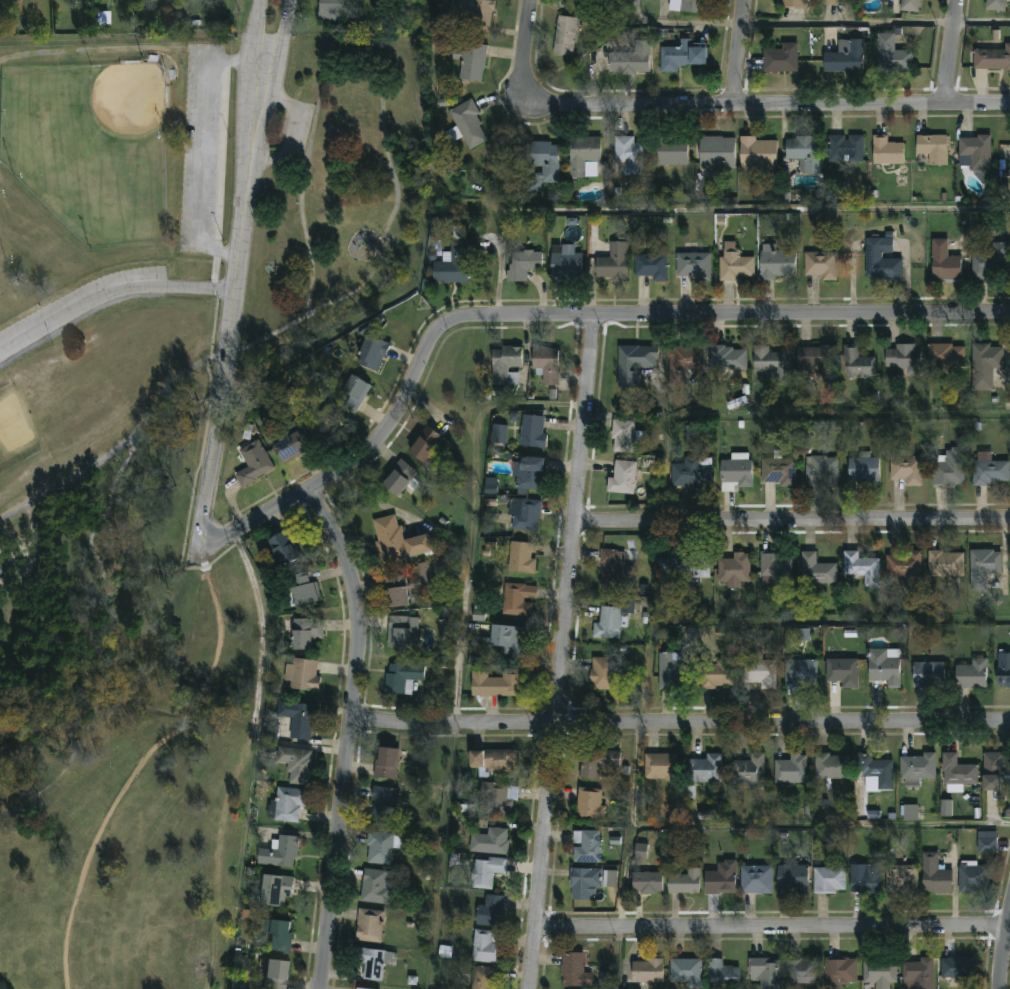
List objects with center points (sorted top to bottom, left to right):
building: (828, 2)
building: (792, 4)
building: (908, 4)
building: (692, 5)
building: (994, 5)
building: (334, 10)
road: (846, 10)
building: (479, 11)
road: (876, 21)
road: (680, 23)
building: (563, 34)
road: (527, 42)
building: (684, 49)
road: (952, 50)
road: (738, 52)
building: (891, 54)
building: (843, 56)
building: (779, 58)
building: (629, 59)
building: (992, 59)
building: (475, 61)
road: (252, 79)
road: (274, 81)
road: (767, 103)
road: (316, 113)
building: (470, 126)
parking lot: (290, 134)
parking lot: (201, 146)
park: (91, 147)
building: (844, 147)
building: (932, 147)
road: (199, 151)
building: (669, 151)
building: (885, 151)
building: (973, 151)
building: (715, 152)
building: (756, 152)
building: (803, 152)
building: (1004, 153)
building: (581, 154)
building: (630, 156)
building: (542, 162)
building: (880, 257)
building: (943, 260)
building: (989, 260)
building: (774, 262)
building: (613, 263)
building: (733, 263)
building: (819, 263)
building: (453, 264)
building: (692, 264)
building: (523, 265)
building: (649, 265)
building: (566, 266)
park: (0, 280)
road: (110, 296)
parking lot: (82, 299)
road: (558, 315)
road: (227, 352)
building: (372, 354)
building: (943, 355)
building: (902, 357)
building: (728, 360)
building: (813, 360)
building: (770, 361)
building: (856, 361)
building: (634, 364)
building: (681, 364)
building: (983, 364)
building: (504, 365)
building: (546, 365)
building: (514, 378)
building: (353, 395)
building: (333, 426)
park: (13, 427)
building: (532, 432)
building: (499, 434)
building: (623, 437)
building: (425, 445)
building: (289, 448)
building: (253, 464)
road: (92, 465)
building: (950, 468)
building: (865, 469)
building: (908, 470)
building: (988, 471)
building: (778, 472)
building: (822, 472)
building: (531, 474)
building: (692, 474)
building: (736, 474)
building: (399, 479)
building: (621, 479)
building: (525, 515)
road: (472, 517)
road: (792, 522)
park: (118, 534)
building: (396, 541)
building: (285, 548)
building: (520, 558)
building: (946, 564)
building: (905, 565)
building: (775, 566)
building: (690, 567)
building: (984, 567)
building: (733, 568)
building: (863, 568)
building: (0, 569)
building: (615, 570)
building: (817, 570)
building: (407, 585)
building: (302, 590)
building: (518, 599)
building: (608, 624)
building: (399, 631)
building: (306, 633)
building: (508, 641)
road: (566, 652)
building: (885, 667)
building: (1003, 670)
building: (672, 671)
building: (844, 672)
building: (606, 673)
building: (802, 673)
building: (759, 674)
building: (929, 674)
building: (972, 674)
building: (302, 675)
building: (715, 676)
building: (402, 678)
building: (497, 684)
building: (296, 722)
road: (680, 726)
building: (271, 733)
road: (349, 735)
road: (241, 760)
building: (492, 761)
building: (597, 762)
building: (385, 763)
building: (296, 765)
building: (831, 767)
building: (660, 768)
building: (790, 769)
building: (705, 770)
building: (916, 770)
building: (748, 771)
building: (957, 771)
building: (996, 771)
building: (875, 773)
building: (497, 800)
building: (383, 803)
building: (289, 806)
building: (590, 806)
building: (946, 808)
building: (911, 812)
road: (771, 824)
building: (490, 842)
building: (987, 843)
building: (586, 847)
building: (379, 849)
building: (641, 851)
building: (279, 853)
road: (441, 857)
building: (487, 872)
building: (934, 876)
building: (974, 878)
building: (610, 879)
building: (792, 879)
building: (901, 879)
building: (720, 880)
building: (829, 880)
building: (755, 881)
building: (866, 881)
building: (684, 883)
building: (585, 884)
building: (647, 884)
building: (375, 887)
building: (276, 892)
building: (490, 912)
road: (773, 924)
building: (369, 926)
building: (276, 935)
building: (486, 947)
road: (1001, 948)
building: (371, 964)
building: (958, 969)
building: (574, 972)
building: (646, 972)
building: (802, 972)
building: (840, 972)
building: (879, 972)
building: (764, 973)
building: (919, 973)
building: (275, 974)
building: (685, 974)
building: (721, 975)
building: (483, 978)
building: (360, 988)

